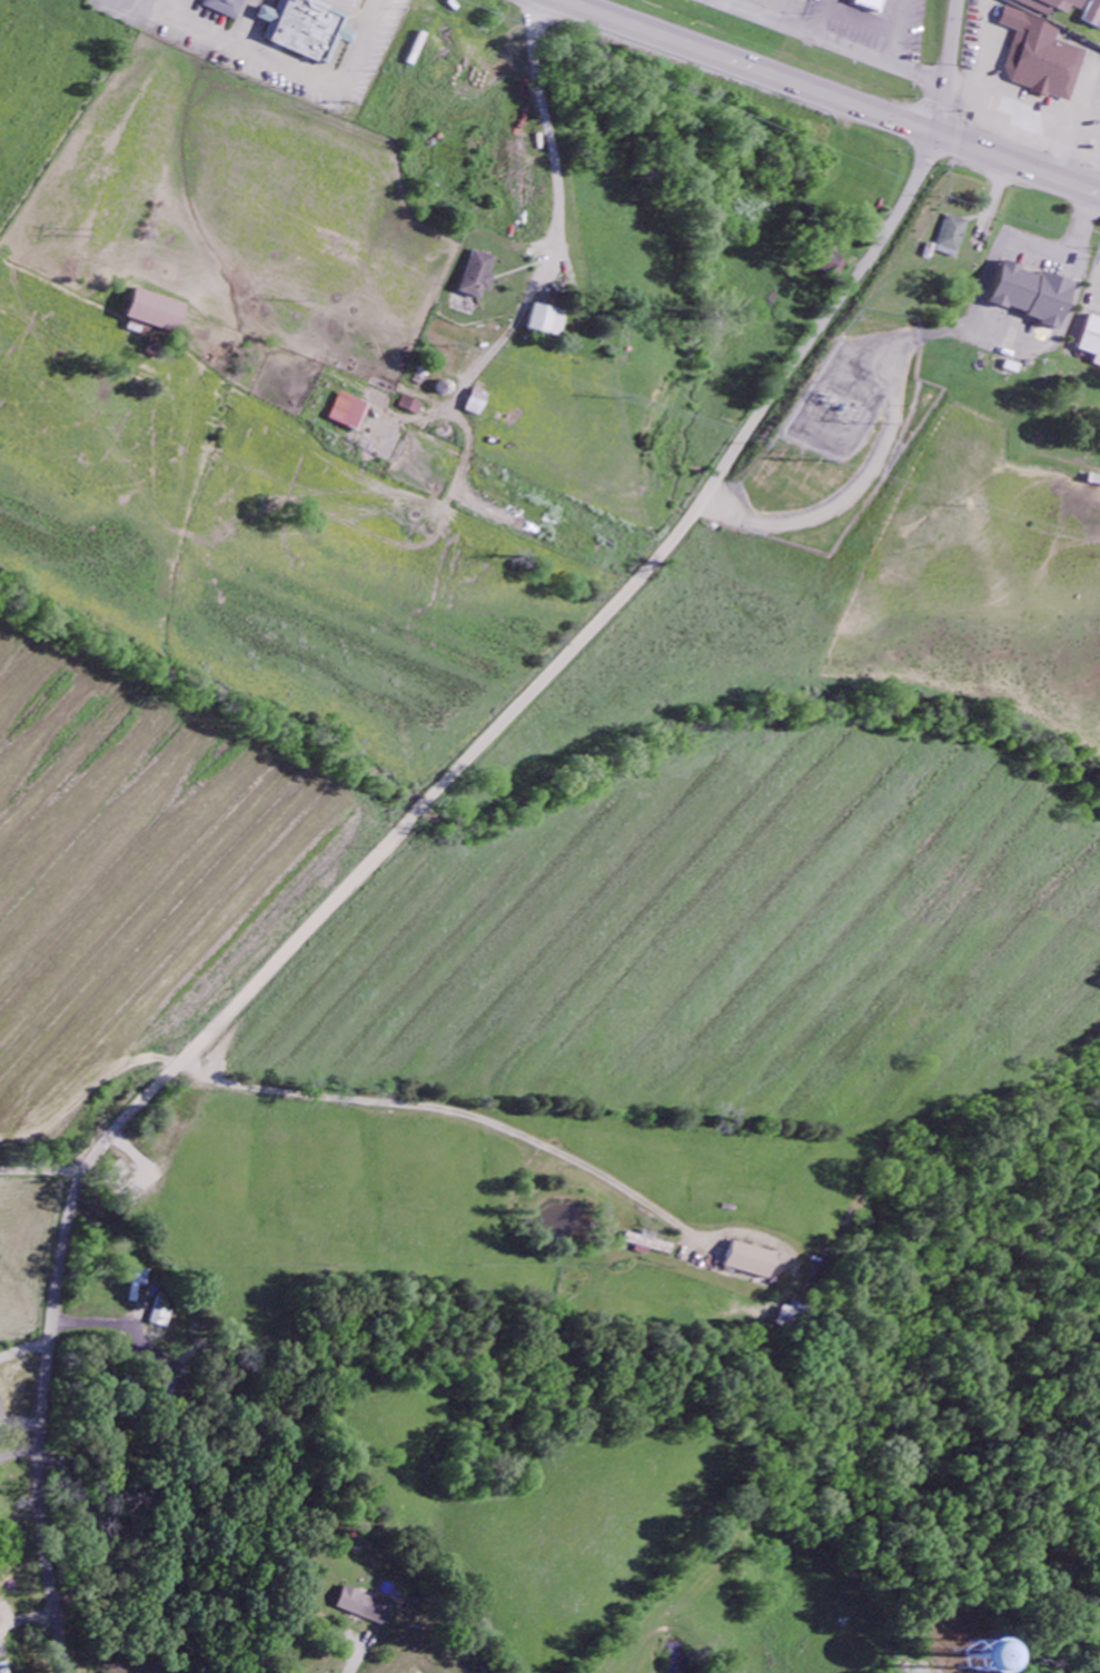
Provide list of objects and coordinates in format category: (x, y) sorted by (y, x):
building: (872, 4)
building: (222, 6)
building: (1051, 6)
road: (781, 13)
building: (1093, 16)
road: (823, 19)
road: (861, 22)
building: (304, 27)
road: (895, 32)
road: (823, 42)
building: (1044, 60)
road: (947, 67)
road: (832, 97)
road: (546, 130)
building: (952, 238)
building: (833, 265)
building: (479, 277)
building: (1035, 297)
building: (155, 314)
building: (548, 323)
building: (1092, 340)
building: (153, 349)
building: (480, 405)
building: (414, 407)
building: (350, 414)
road: (369, 863)
road: (356, 1079)
road: (38, 1181)
building: (650, 1246)
building: (755, 1261)
building: (140, 1284)
building: (163, 1314)
building: (793, 1316)
road: (109, 1317)
building: (2, 1408)
road: (208, 1596)
building: (366, 1607)
building: (994, 1661)

